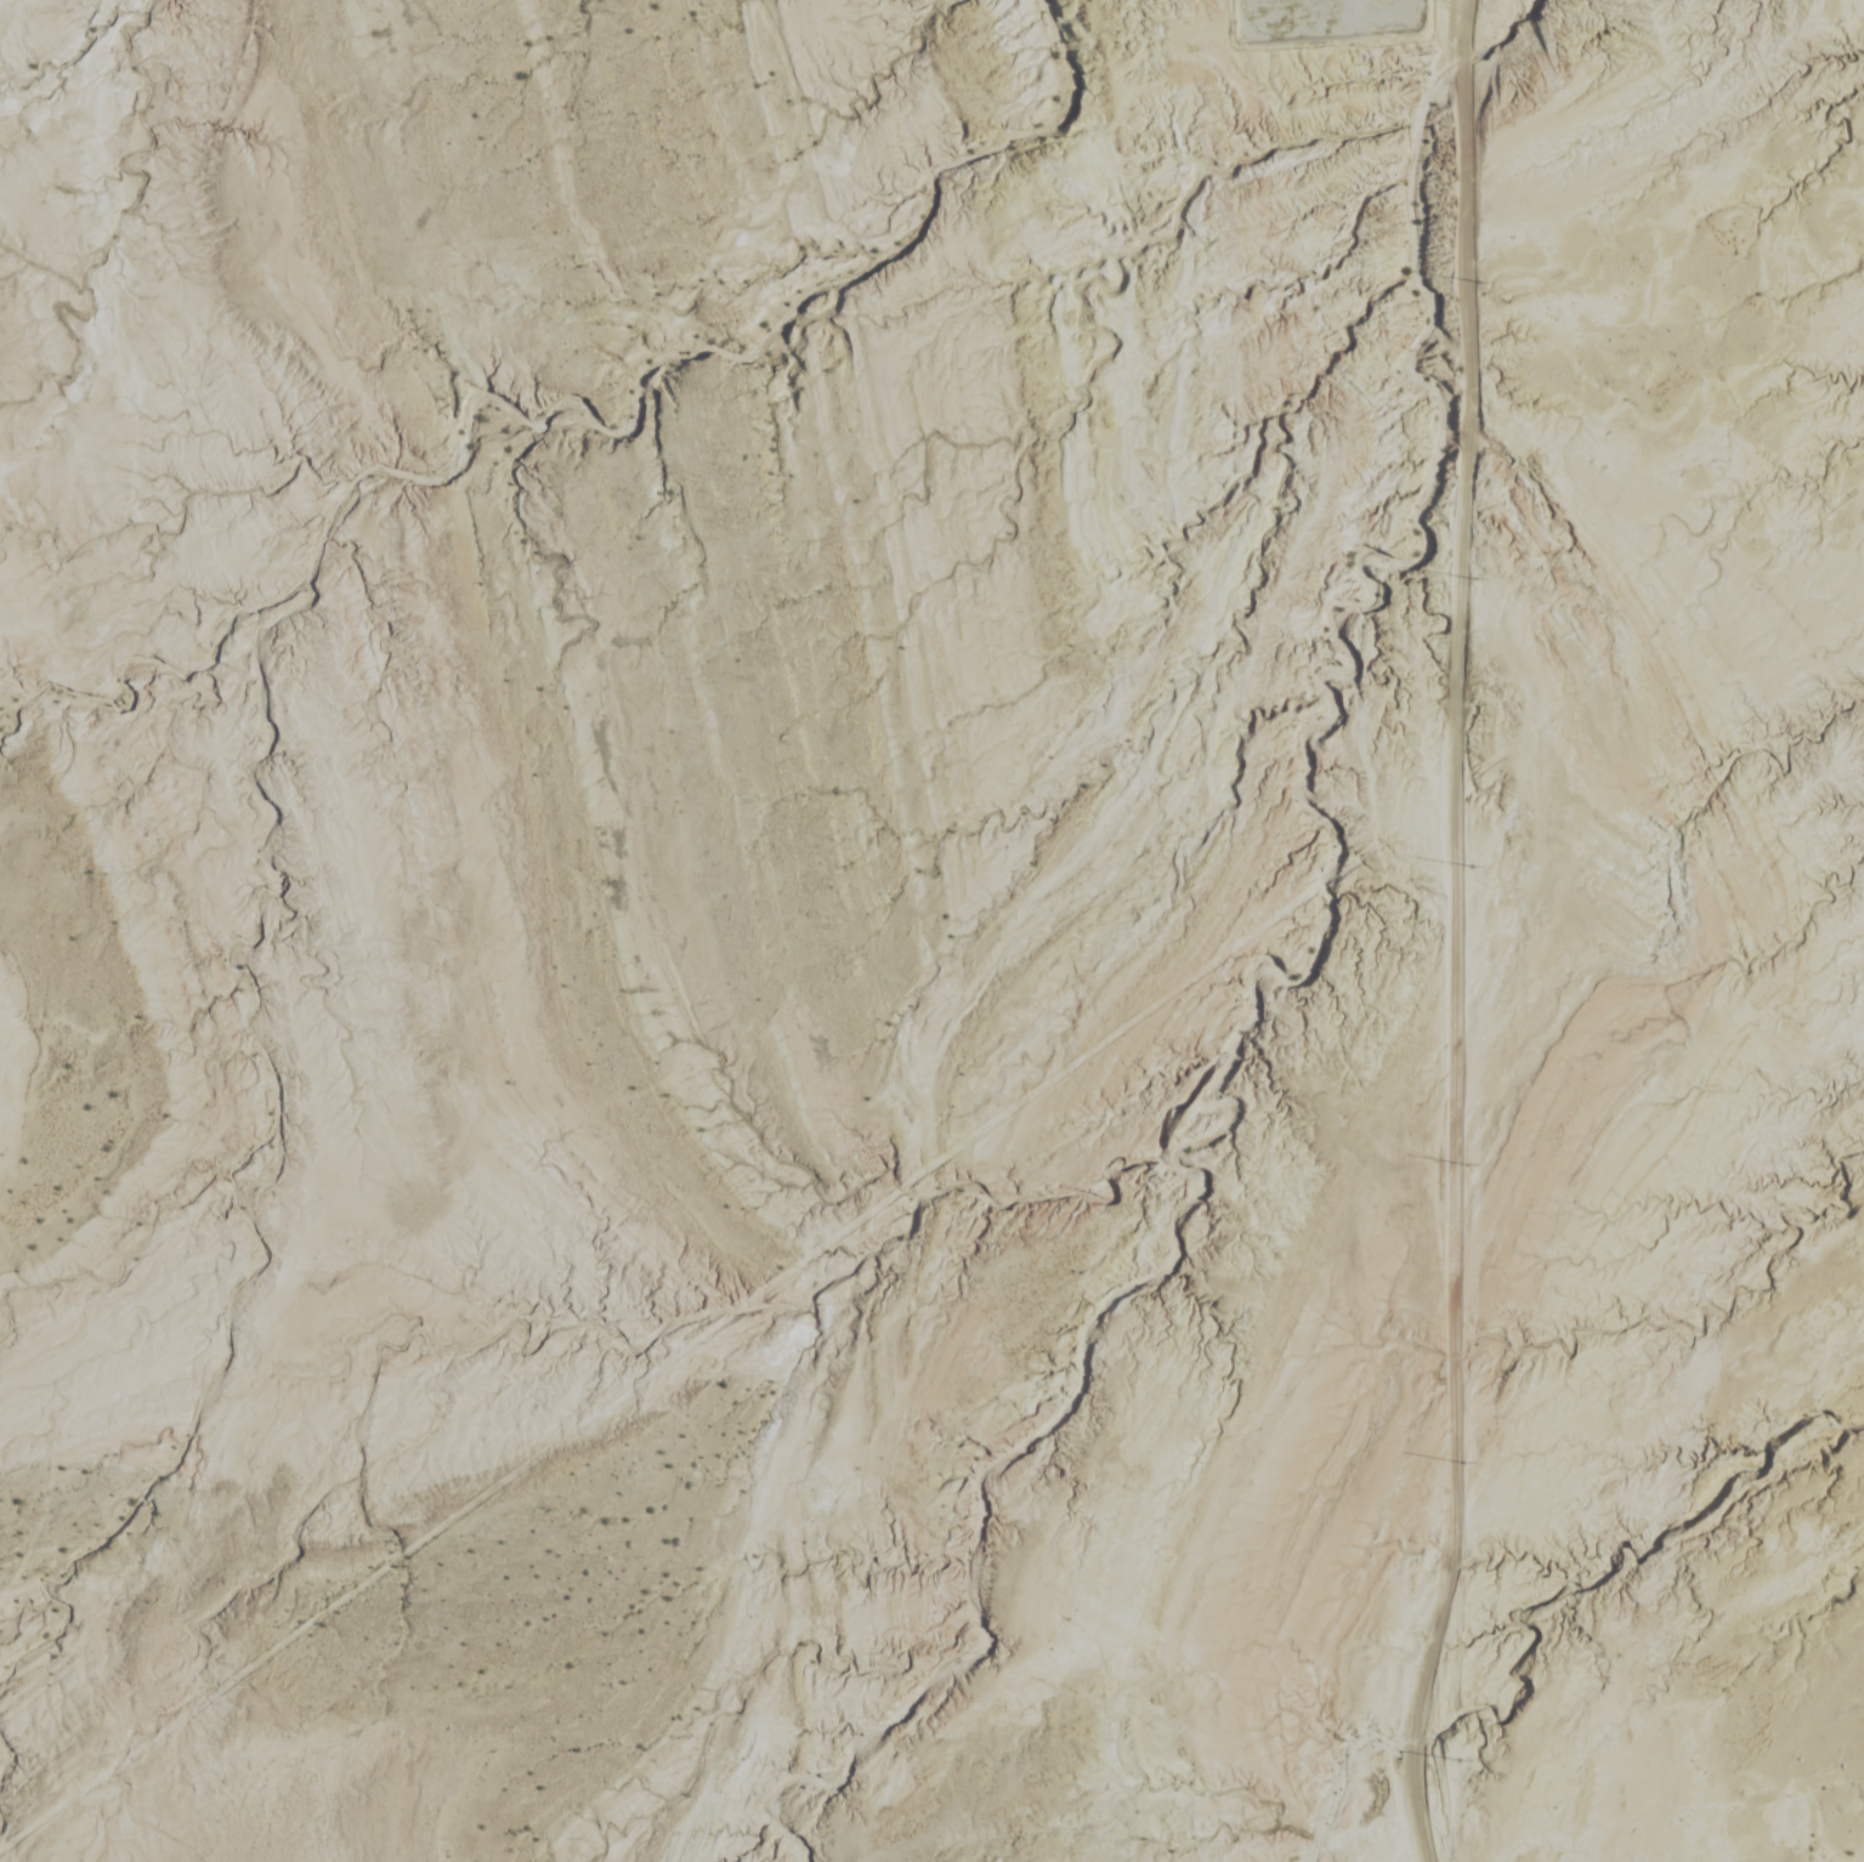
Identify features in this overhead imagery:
road: (1455, 933)

